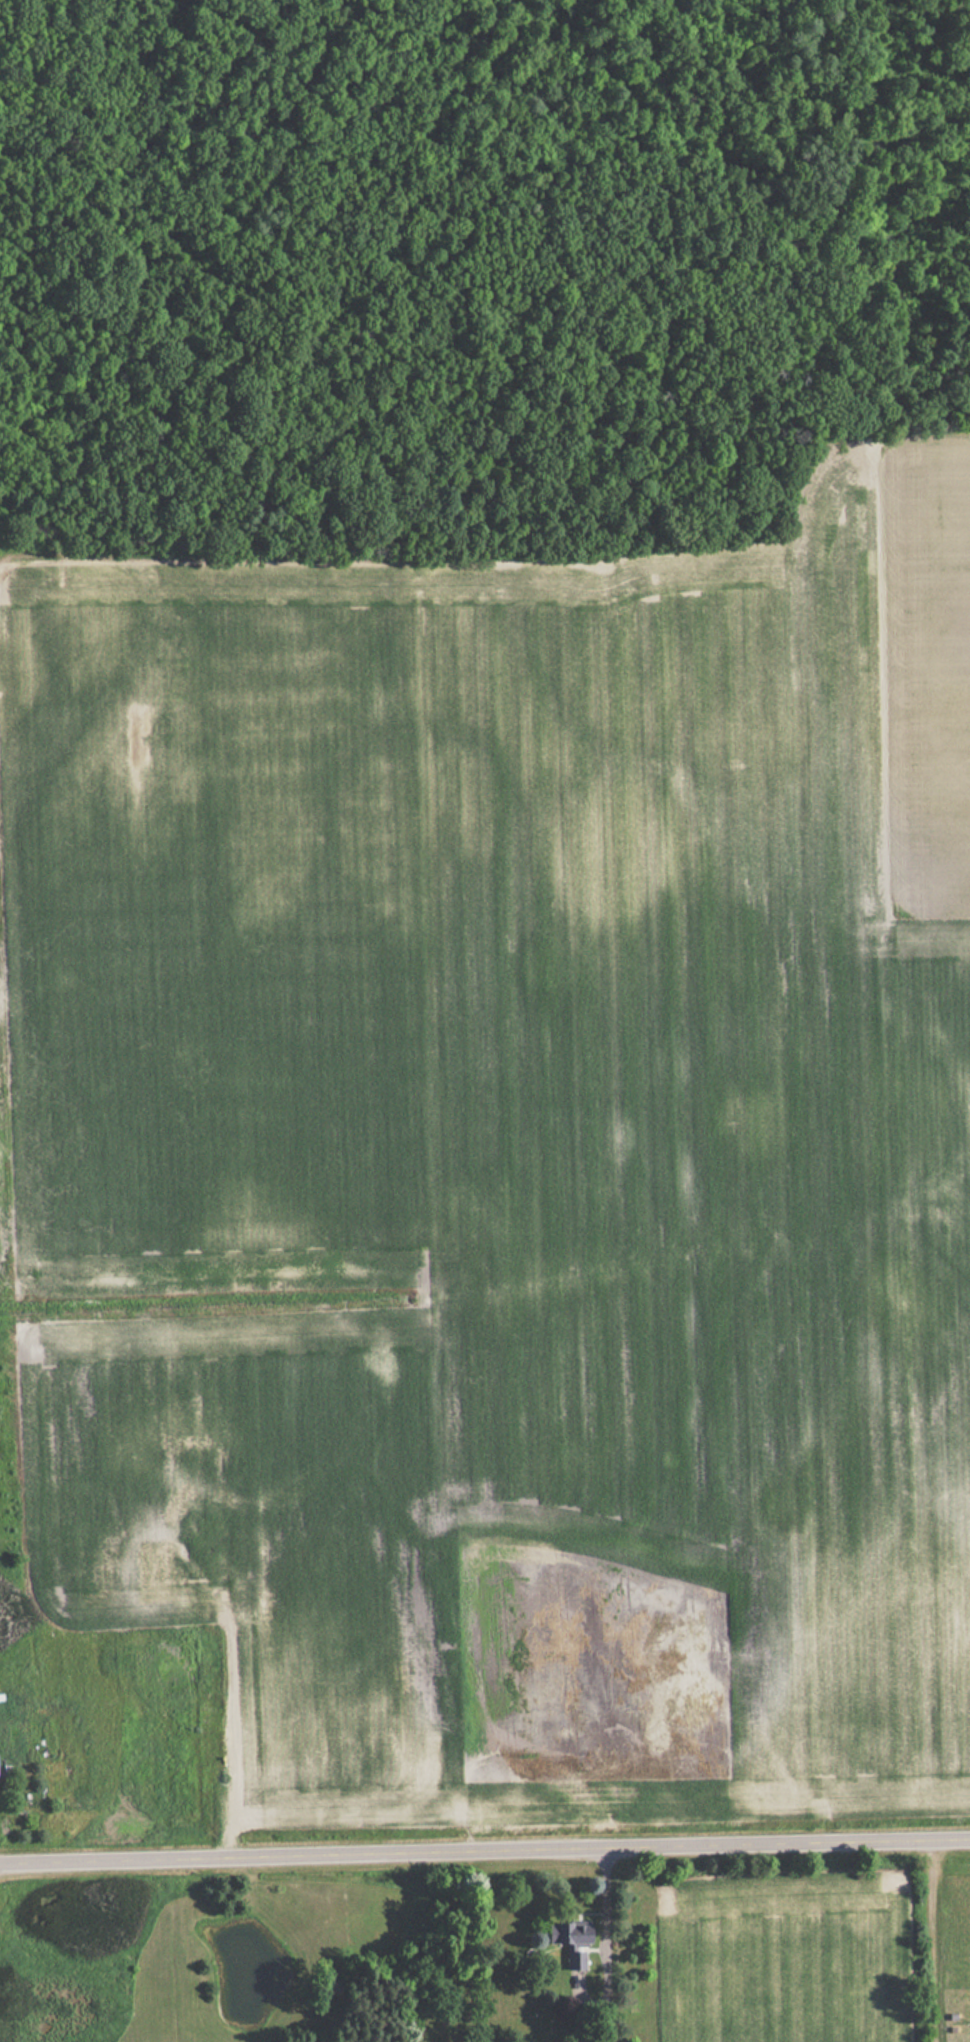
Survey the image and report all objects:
road: (485, 1859)
building: (572, 1943)

